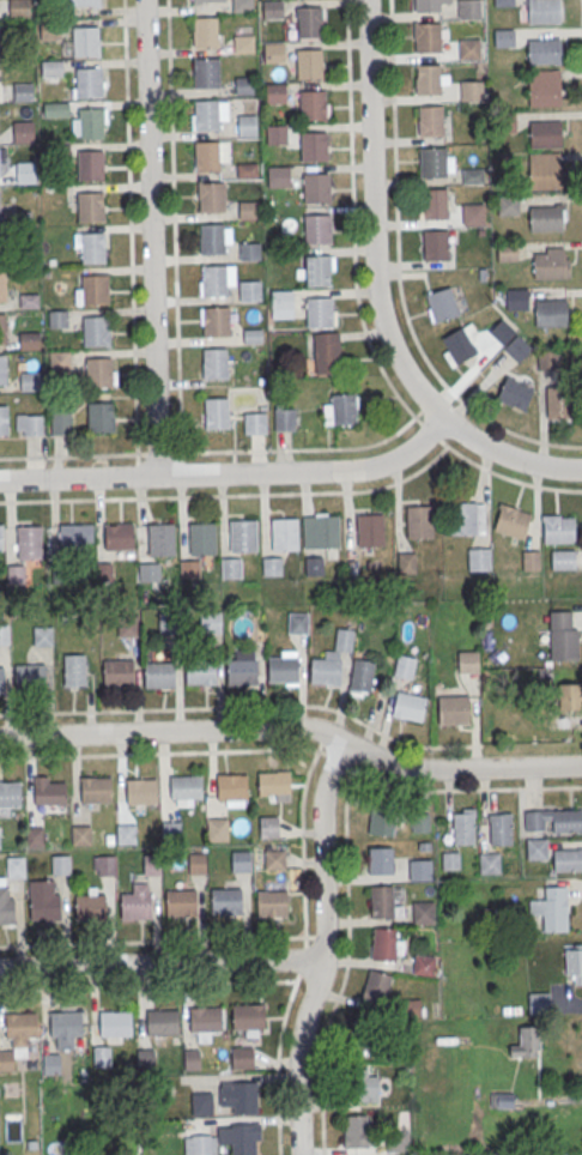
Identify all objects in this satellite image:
building: (208, 1)
building: (81, 2)
building: (503, 4)
building: (426, 5)
building: (242, 6)
building: (467, 8)
building: (272, 11)
building: (542, 11)
road: (581, 11)
building: (309, 22)
building: (205, 34)
building: (428, 37)
building: (503, 37)
building: (85, 41)
building: (243, 46)
building: (469, 49)
building: (544, 52)
building: (273, 54)
building: (308, 64)
building: (49, 67)
building: (205, 74)
building: (426, 79)
building: (89, 81)
building: (544, 83)
building: (244, 87)
building: (471, 90)
building: (22, 91)
building: (275, 95)
building: (311, 104)
building: (205, 116)
building: (430, 120)
building: (91, 122)
building: (247, 127)
building: (22, 131)
building: (545, 133)
building: (277, 137)
building: (313, 146)
building: (206, 158)
building: (432, 162)
building: (90, 165)
building: (544, 170)
building: (26, 171)
building: (247, 171)
building: (472, 176)
building: (278, 179)
building: (315, 187)
building: (211, 199)
building: (434, 202)
building: (90, 206)
building: (248, 212)
building: (472, 213)
building: (546, 217)
building: (317, 229)
road: (152, 237)
building: (211, 237)
building: (435, 244)
building: (0, 246)
building: (91, 247)
building: (507, 250)
building: (249, 253)
building: (550, 262)
building: (317, 271)
building: (212, 279)
building: (2, 288)
building: (95, 289)
building: (250, 290)
road: (375, 295)
building: (516, 298)
building: (29, 300)
building: (281, 301)
building: (441, 304)
building: (319, 312)
building: (551, 312)
building: (56, 318)
building: (216, 320)
building: (2, 328)
building: (96, 331)
building: (253, 338)
building: (28, 339)
building: (509, 339)
building: (459, 344)
building: (325, 353)
building: (57, 359)
building: (547, 359)
building: (213, 362)
building: (2, 369)
building: (98, 371)
building: (30, 381)
building: (514, 393)
building: (559, 403)
building: (341, 409)
building: (216, 412)
road: (418, 413)
building: (60, 417)
building: (99, 417)
building: (283, 418)
building: (2, 419)
building: (255, 423)
building: (29, 424)
road: (508, 431)
road: (302, 450)
road: (157, 454)
road: (68, 456)
road: (231, 473)
road: (510, 478)
road: (251, 496)
building: (469, 518)
building: (419, 521)
building: (511, 521)
building: (557, 528)
building: (370, 530)
building: (317, 532)
building: (284, 533)
building: (242, 534)
building: (121, 536)
building: (0, 537)
building: (201, 538)
building: (71, 539)
building: (160, 539)
building: (28, 542)
building: (479, 558)
building: (563, 558)
building: (531, 560)
building: (406, 562)
building: (272, 566)
building: (314, 566)
building: (189, 568)
building: (231, 568)
building: (148, 572)
building: (164, 622)
building: (210, 622)
building: (297, 622)
building: (128, 627)
building: (2, 634)
building: (42, 635)
building: (563, 635)
building: (468, 657)
building: (331, 660)
building: (405, 666)
building: (283, 667)
building: (74, 670)
building: (115, 671)
building: (200, 671)
building: (242, 671)
building: (158, 675)
building: (29, 676)
building: (362, 676)
building: (1, 678)
building: (570, 696)
building: (408, 706)
building: (454, 709)
road: (147, 710)
road: (295, 728)
building: (273, 782)
building: (186, 786)
building: (232, 786)
building: (96, 788)
building: (49, 790)
building: (141, 790)
building: (10, 793)
building: (381, 821)
building: (420, 822)
building: (268, 826)
building: (462, 826)
building: (499, 828)
building: (217, 829)
building: (126, 833)
building: (80, 834)
building: (35, 836)
building: (536, 848)
building: (274, 859)
building: (241, 860)
building: (380, 860)
building: (450, 860)
building: (196, 863)
building: (489, 863)
building: (60, 864)
building: (151, 864)
building: (103, 865)
building: (16, 866)
building: (420, 869)
building: (384, 901)
building: (226, 903)
building: (180, 905)
building: (272, 906)
building: (135, 907)
building: (551, 908)
building: (44, 909)
building: (90, 909)
building: (423, 912)
building: (6, 913)
building: (386, 944)
road: (323, 948)
road: (303, 955)
road: (160, 963)
building: (423, 964)
building: (574, 964)
building: (376, 987)
building: (538, 1002)
building: (247, 1016)
building: (205, 1020)
building: (162, 1022)
building: (65, 1023)
building: (115, 1023)
building: (20, 1026)
building: (527, 1042)
building: (101, 1057)
building: (146, 1059)
building: (192, 1059)
building: (242, 1059)
building: (7, 1064)
building: (53, 1064)
building: (365, 1086)
building: (240, 1095)
building: (201, 1103)
building: (356, 1130)
building: (241, 1137)
building: (398, 1141)
building: (200, 1145)
building: (564, 1154)

